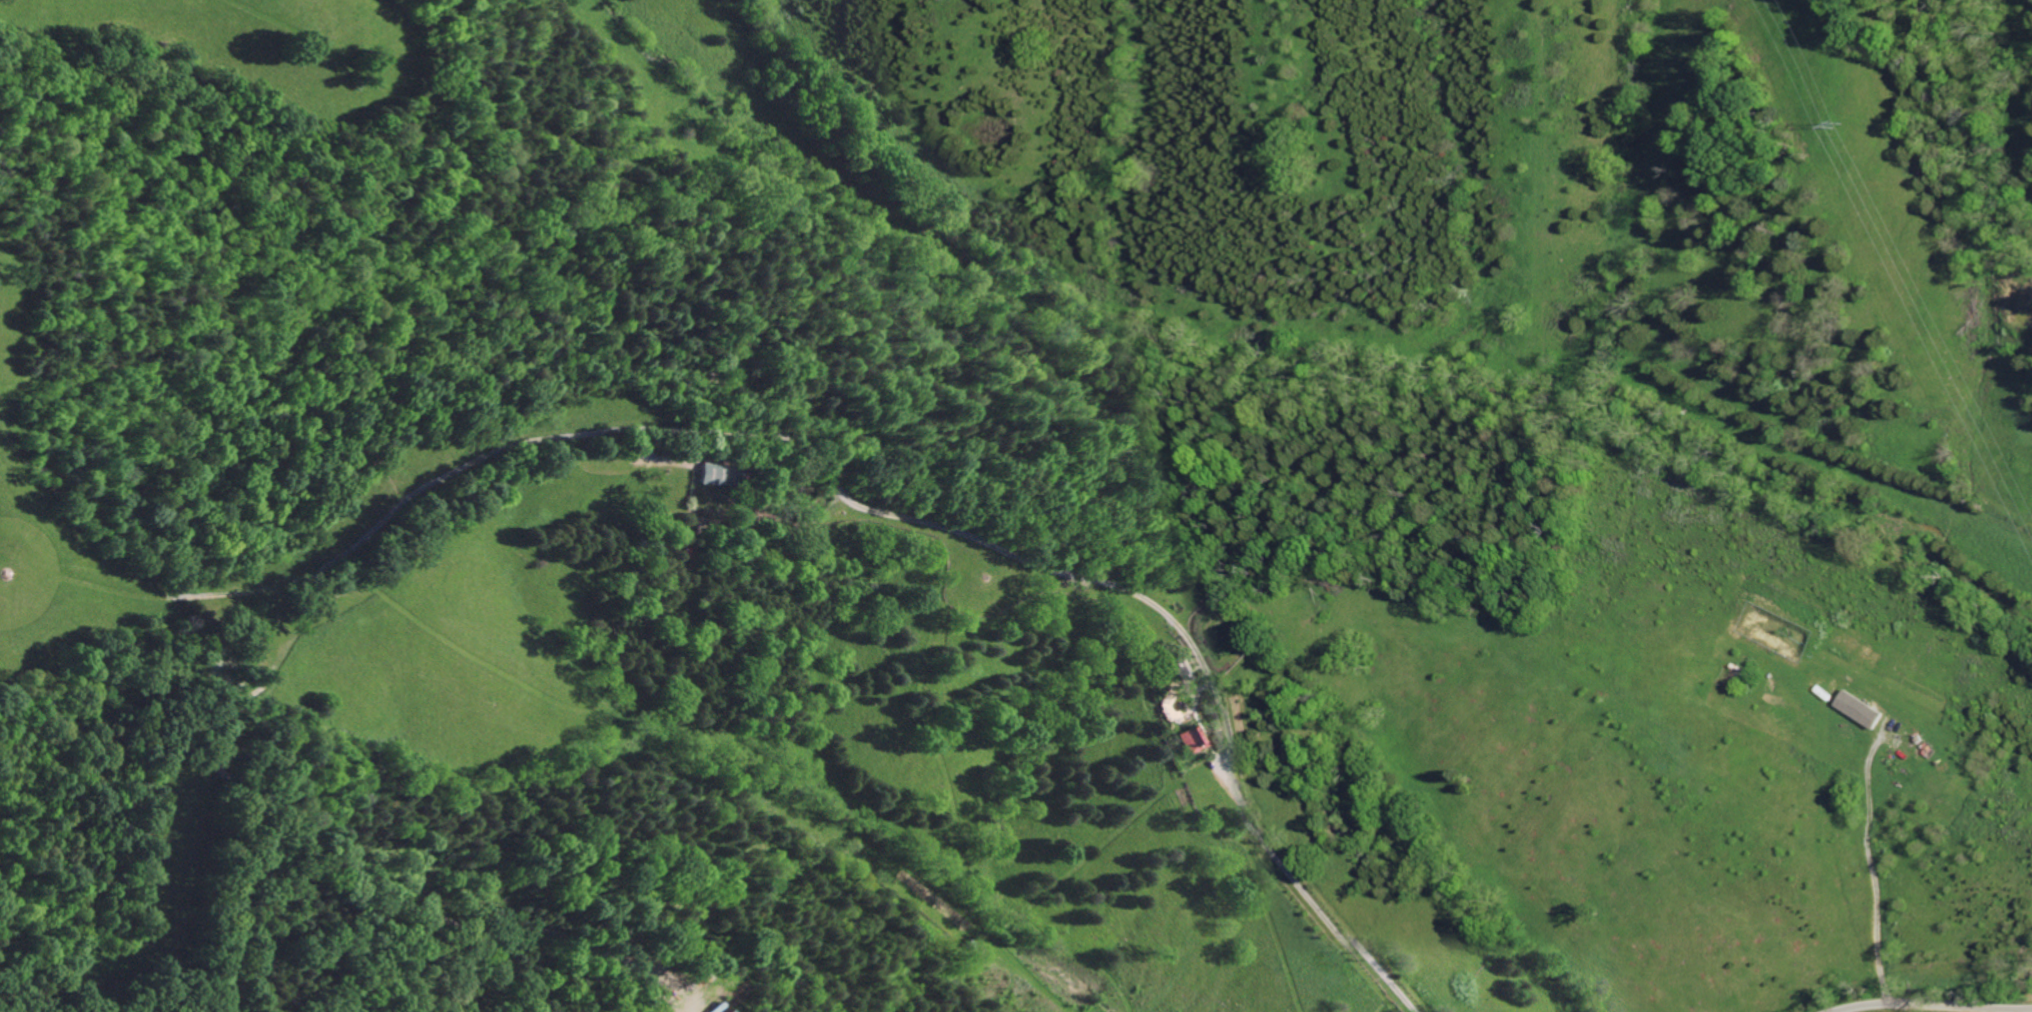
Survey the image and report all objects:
building: (723, 473)
road: (1100, 581)
building: (1866, 709)
building: (1190, 740)
road: (1873, 871)
road: (1939, 1009)
building: (733, 1011)

